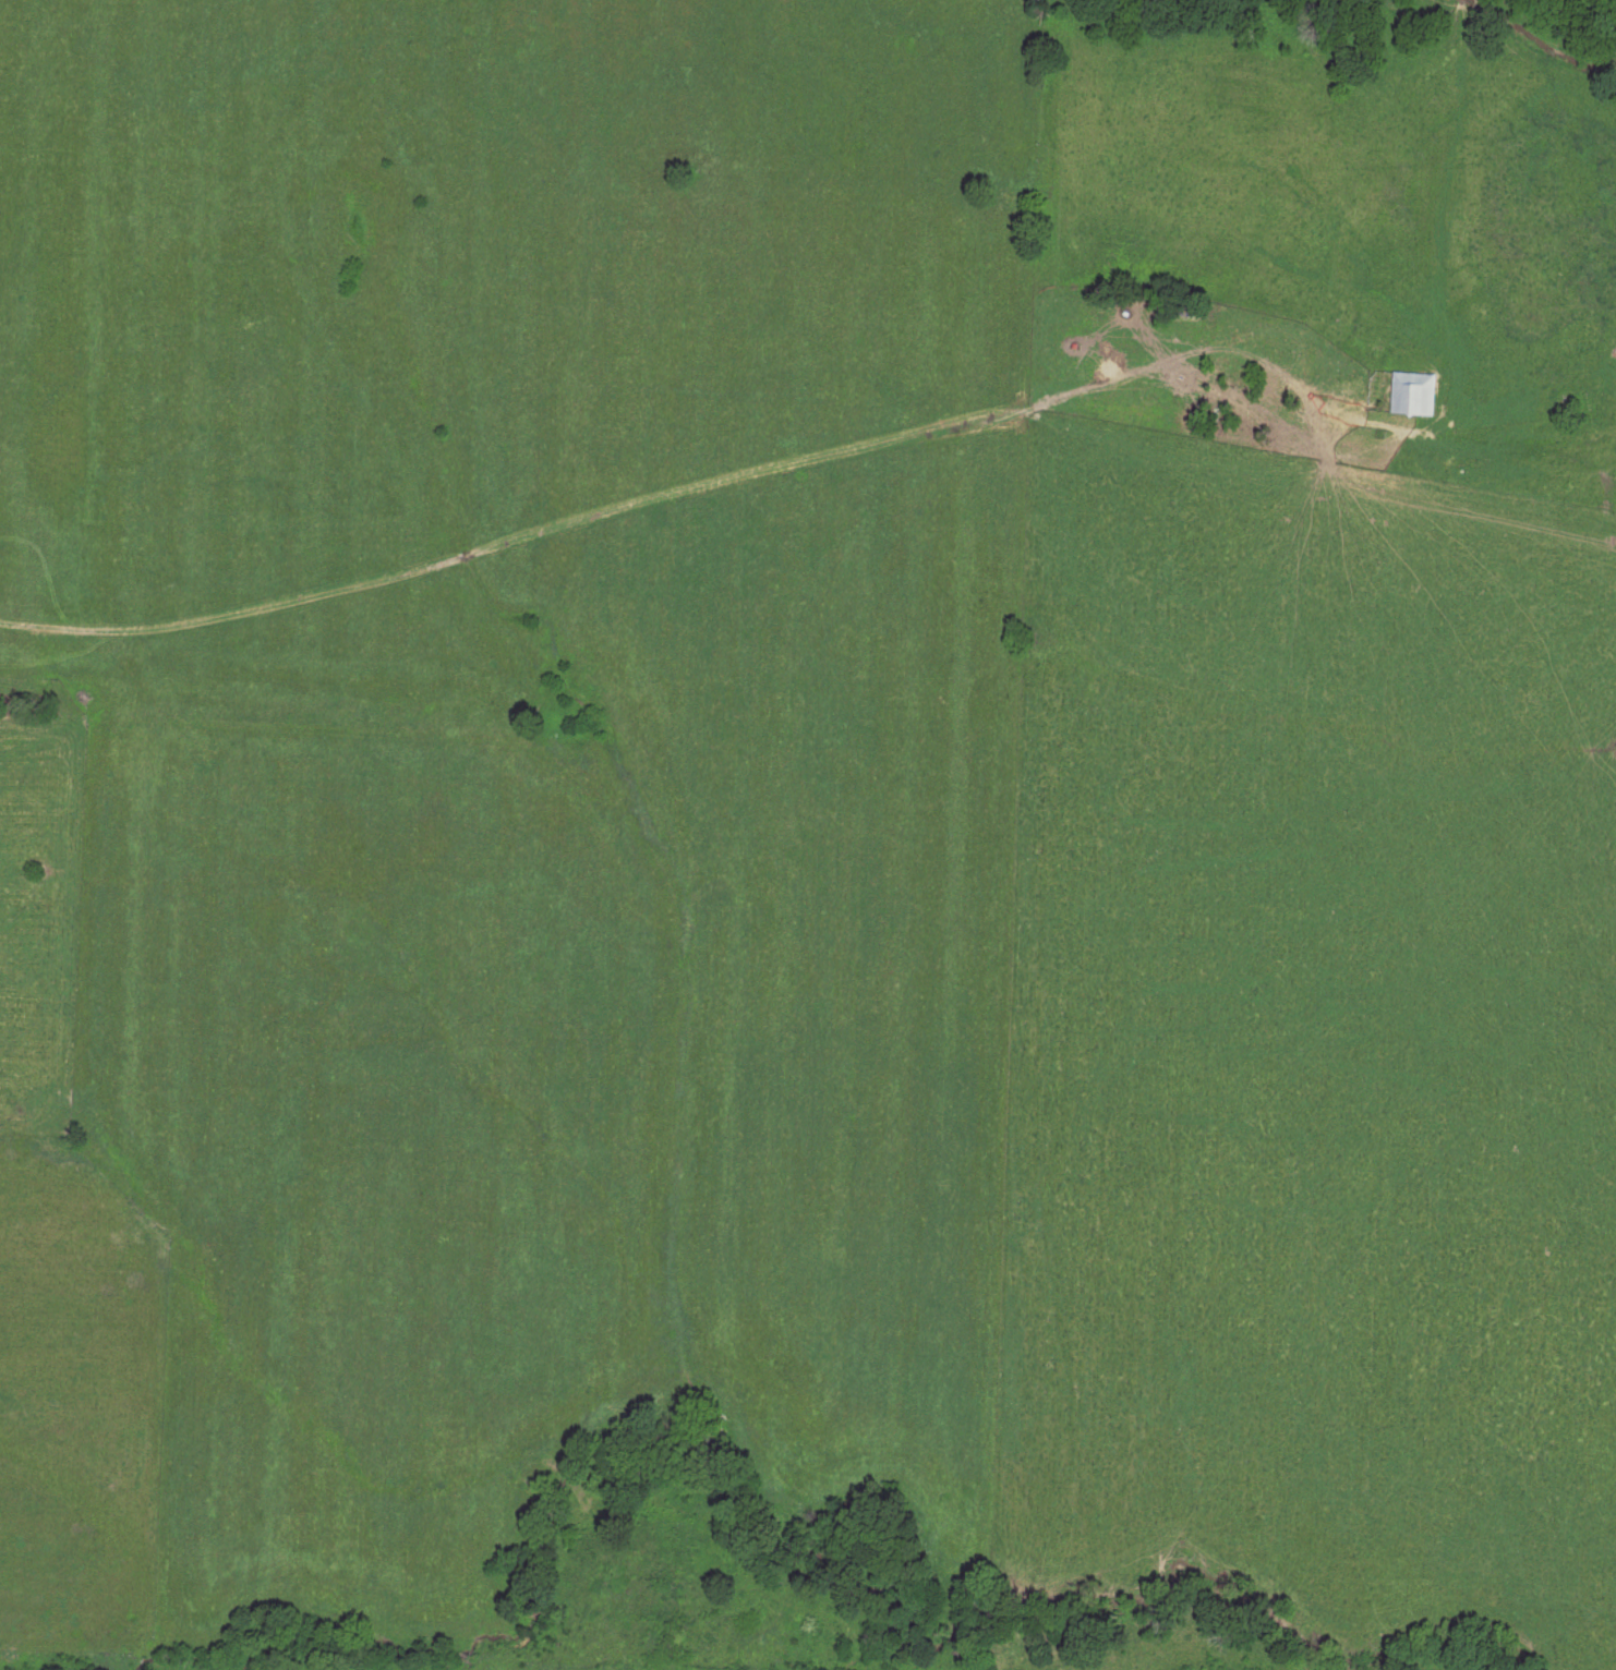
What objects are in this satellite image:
building: (1174, 312)
building: (1413, 394)

